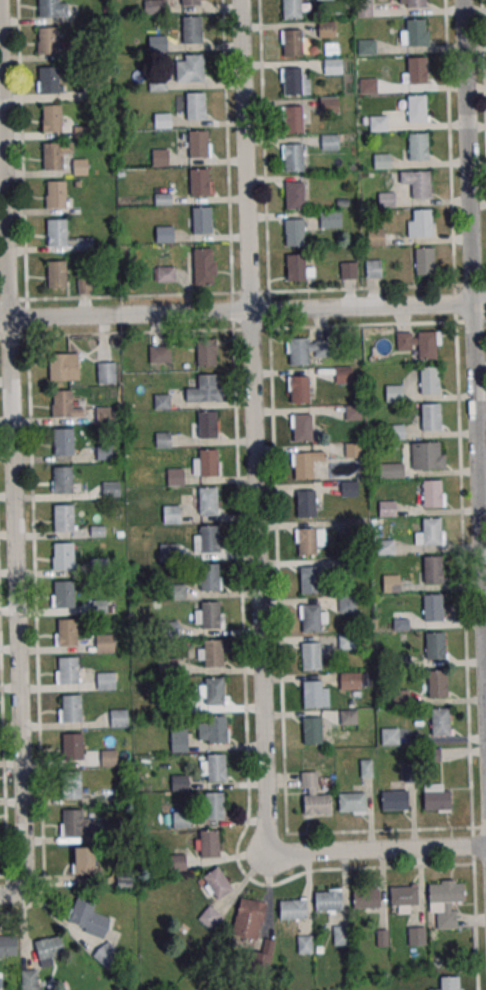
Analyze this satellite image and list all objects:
building: (191, 3)
building: (416, 4)
building: (154, 6)
building: (364, 8)
building: (48, 9)
building: (291, 10)
building: (326, 30)
building: (191, 32)
building: (416, 35)
building: (47, 41)
building: (157, 42)
building: (292, 45)
building: (366, 48)
road: (483, 64)
building: (332, 67)
building: (194, 70)
building: (417, 72)
building: (49, 81)
building: (157, 83)
building: (292, 83)
building: (368, 87)
building: (328, 106)
building: (195, 107)
building: (417, 110)
building: (52, 120)
building: (162, 121)
building: (294, 122)
building: (378, 125)
building: (81, 132)
building: (329, 143)
road: (449, 143)
road: (264, 145)
building: (198, 146)
building: (418, 149)
road: (22, 150)
building: (53, 158)
building: (160, 158)
building: (293, 159)
building: (381, 162)
building: (80, 167)
building: (198, 184)
building: (421, 187)
building: (56, 196)
building: (294, 197)
building: (162, 198)
building: (386, 199)
building: (330, 219)
building: (202, 222)
building: (422, 225)
building: (57, 233)
building: (295, 234)
building: (164, 235)
building: (375, 237)
building: (84, 245)
building: (424, 263)
building: (203, 264)
building: (373, 268)
building: (296, 269)
building: (348, 270)
building: (167, 274)
building: (56, 276)
road: (242, 292)
road: (243, 311)
road: (243, 329)
road: (474, 335)
building: (427, 347)
building: (320, 348)
building: (160, 353)
building: (298, 353)
building: (206, 354)
building: (63, 366)
building: (106, 373)
building: (343, 376)
building: (430, 382)
building: (207, 389)
building: (299, 391)
building: (394, 394)
building: (61, 402)
building: (103, 413)
building: (352, 413)
building: (430, 416)
building: (207, 425)
building: (302, 426)
building: (395, 431)
building: (63, 441)
building: (353, 450)
building: (426, 455)
building: (207, 462)
road: (12, 463)
building: (303, 464)
building: (381, 469)
building: (61, 479)
building: (348, 488)
building: (110, 489)
building: (431, 492)
building: (207, 500)
building: (305, 503)
building: (386, 507)
building: (170, 514)
building: (61, 516)
building: (355, 526)
building: (430, 531)
road: (257, 536)
building: (208, 538)
building: (306, 541)
building: (385, 547)
building: (168, 552)
building: (61, 555)
road: (240, 556)
building: (98, 567)
building: (345, 567)
building: (432, 568)
road: (463, 575)
building: (208, 577)
building: (309, 579)
building: (390, 582)
building: (175, 592)
building: (62, 593)
building: (347, 604)
building: (432, 606)
building: (209, 615)
building: (310, 616)
road: (35, 620)
building: (168, 630)
building: (66, 632)
building: (347, 641)
building: (104, 643)
building: (438, 645)
building: (212, 652)
road: (280, 655)
building: (310, 655)
building: (401, 663)
building: (166, 666)
building: (67, 670)
building: (348, 679)
building: (104, 680)
building: (438, 683)
building: (213, 691)
building: (311, 693)
building: (400, 698)
building: (70, 708)
building: (347, 717)
building: (117, 718)
building: (441, 721)
building: (213, 729)
building: (312, 729)
building: (389, 736)
building: (178, 740)
building: (71, 746)
building: (107, 758)
building: (215, 767)
building: (366, 768)
road: (3, 771)
building: (179, 782)
building: (70, 784)
building: (392, 799)
building: (435, 800)
building: (350, 801)
building: (315, 803)
building: (213, 805)
building: (180, 819)
building: (71, 822)
building: (207, 843)
building: (83, 860)
building: (215, 884)
building: (402, 894)
building: (364, 897)
building: (326, 900)
building: (444, 900)
road: (474, 908)
building: (290, 909)
building: (87, 917)
building: (247, 923)
building: (340, 935)
building: (416, 935)
building: (7, 944)
building: (49, 949)
building: (106, 954)
building: (30, 979)
building: (447, 983)

